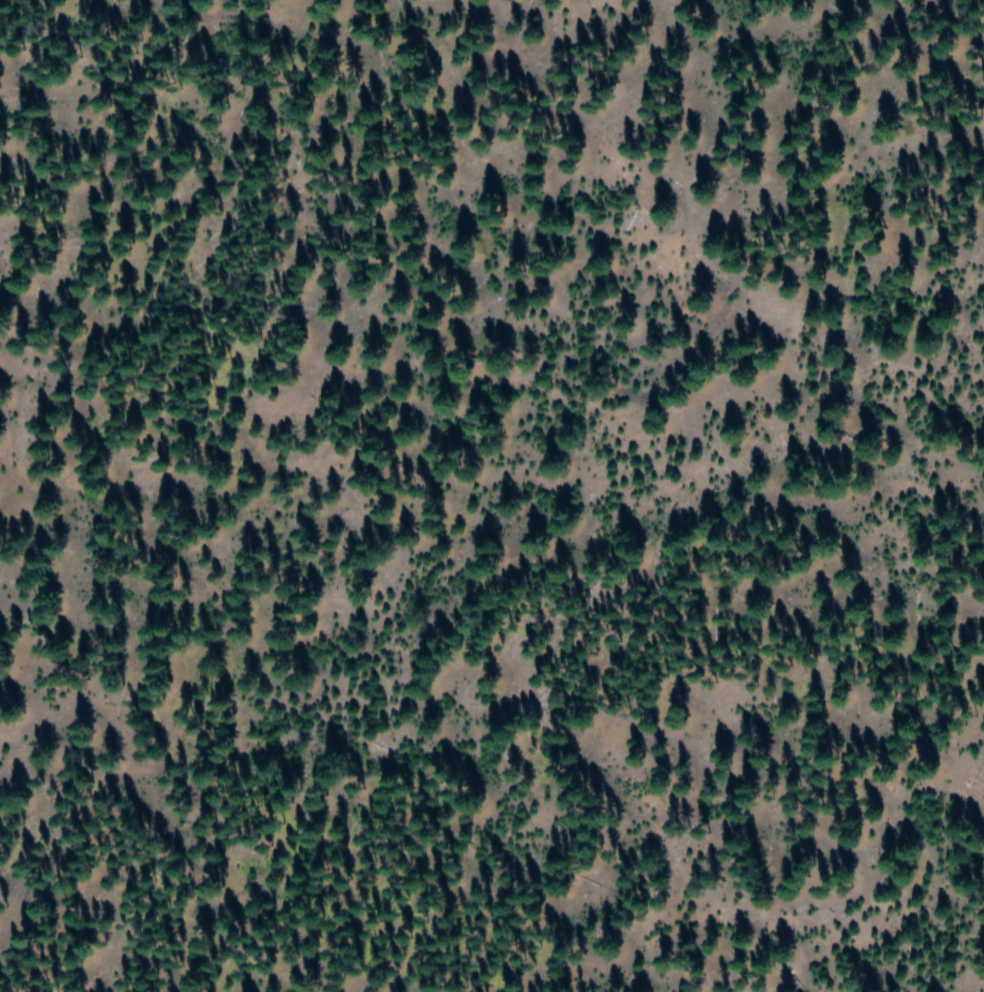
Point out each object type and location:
road: (30, 58)

